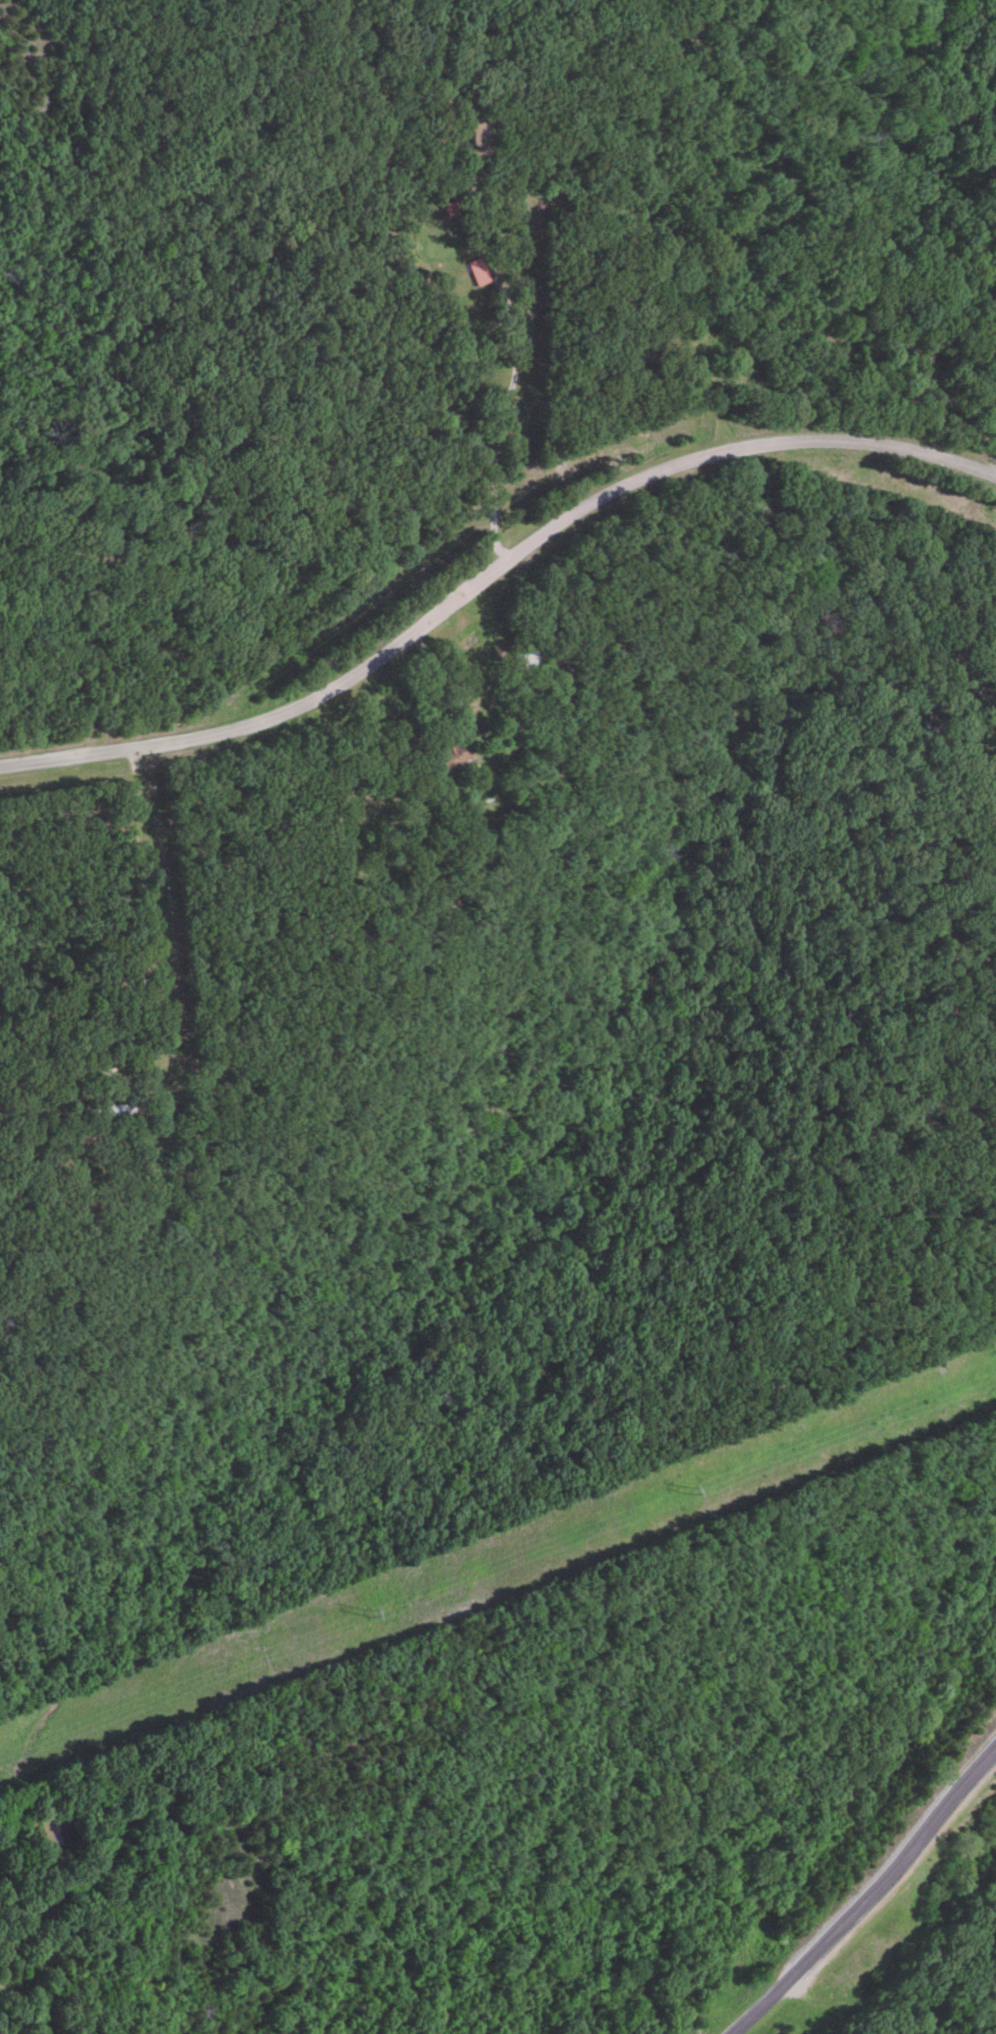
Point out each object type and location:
building: (448, 208)
building: (476, 273)
road: (511, 371)
road: (494, 582)
building: (521, 660)
road: (503, 684)
road: (169, 931)
power tower: (698, 1486)
power tower: (363, 1618)
road: (869, 1879)

